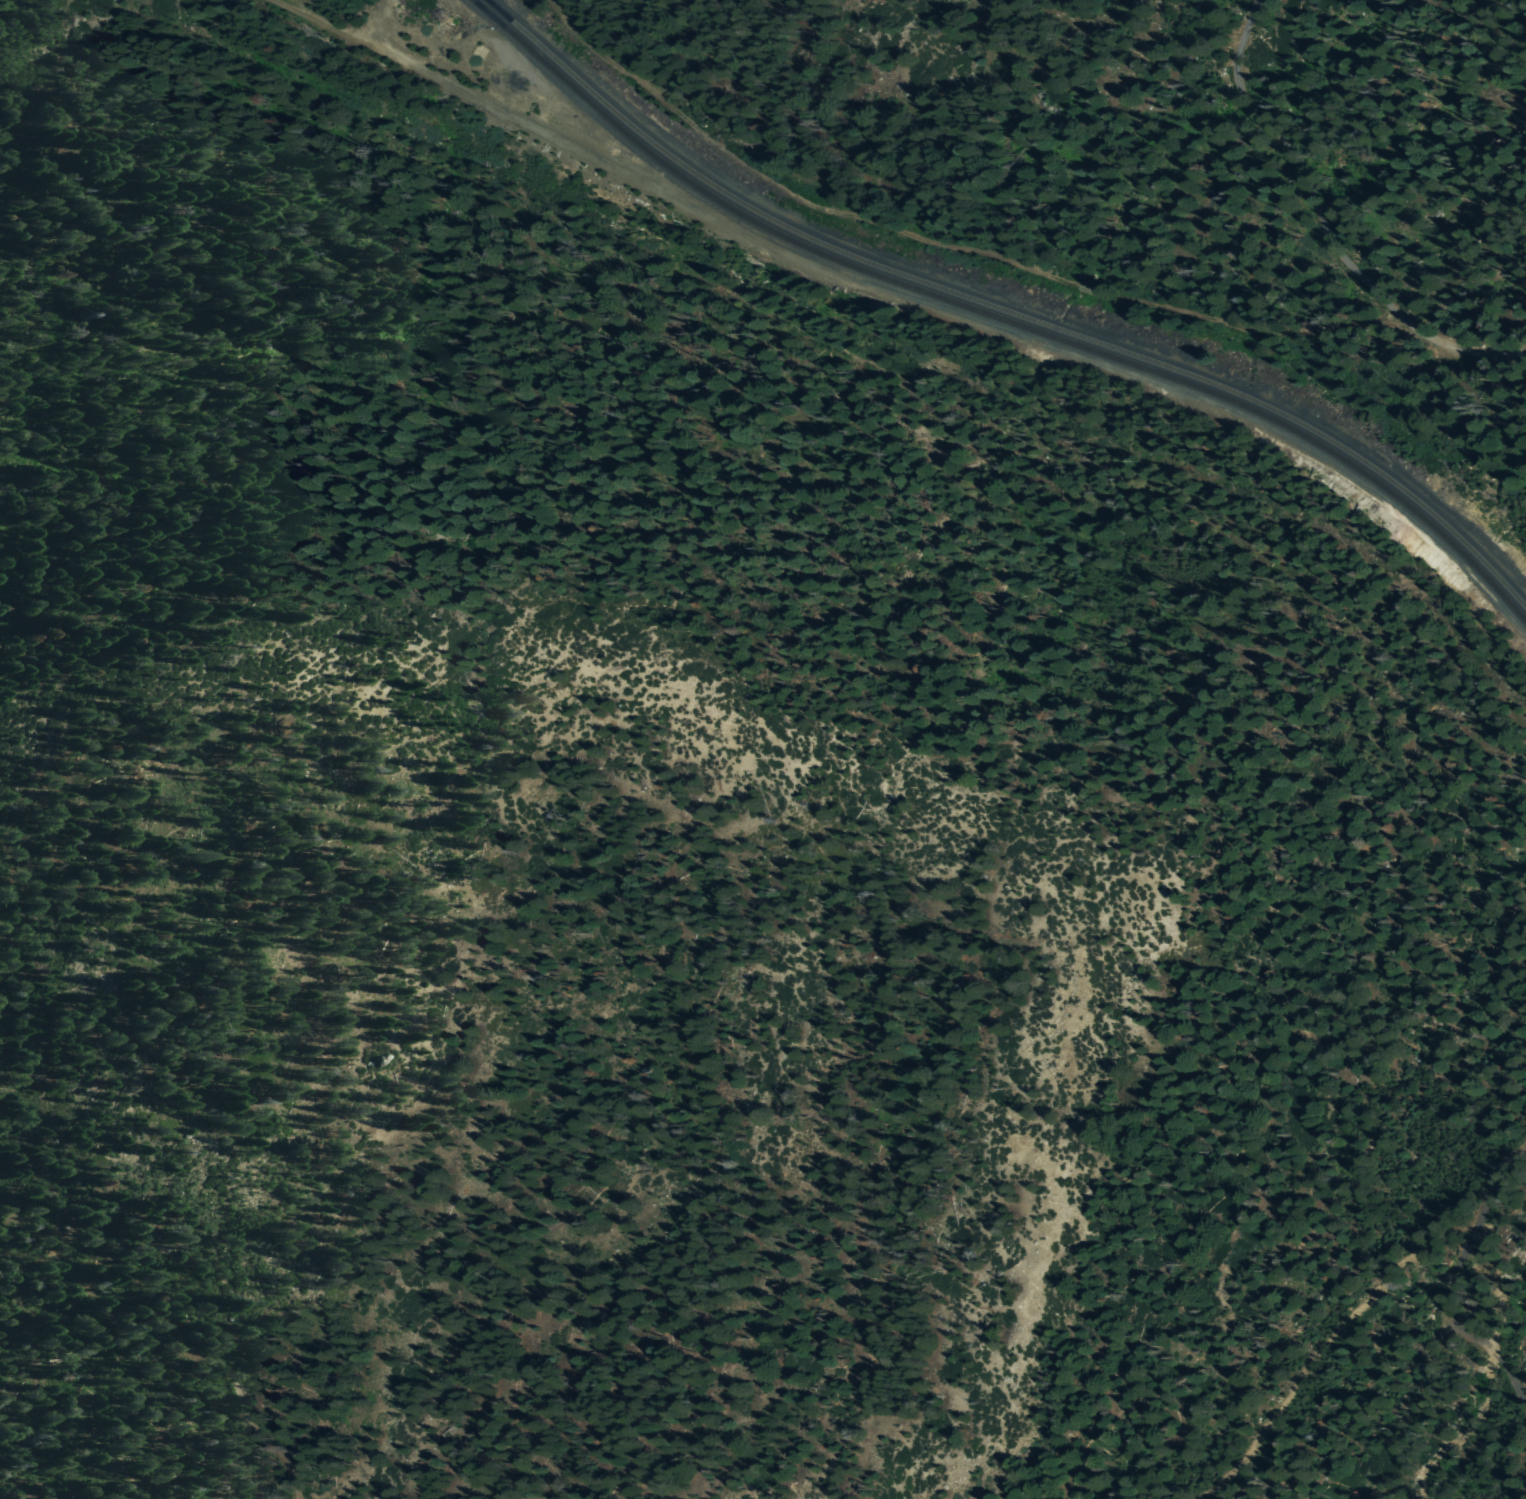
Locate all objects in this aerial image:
road: (1322, 225)
road: (942, 244)
railway: (1004, 311)
railway: (997, 318)
road: (1453, 1280)

